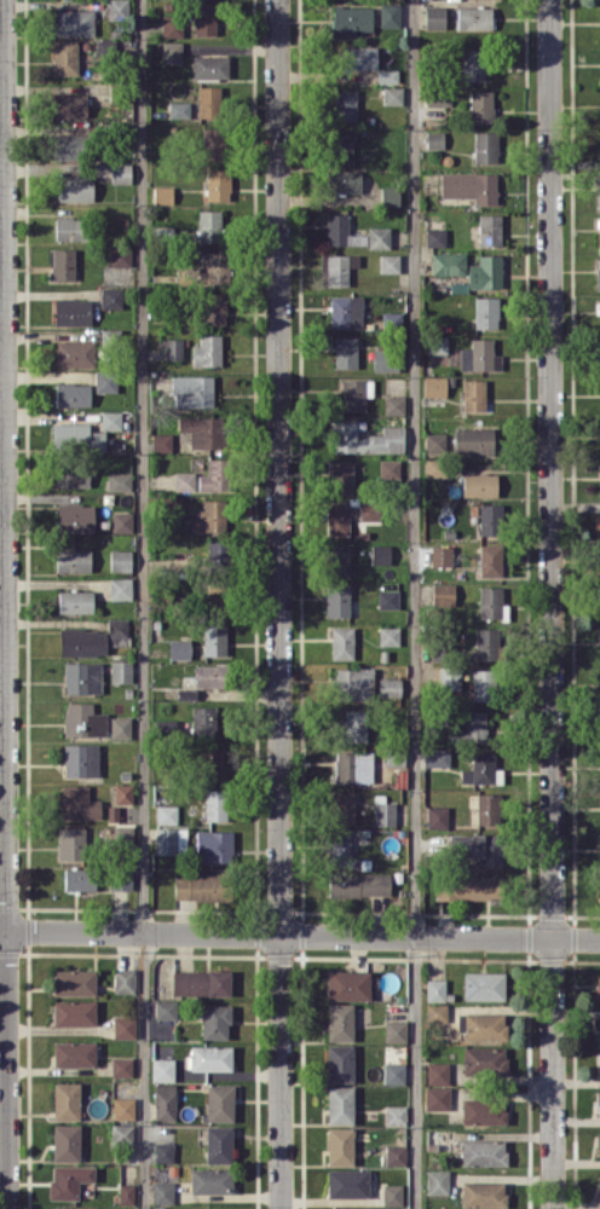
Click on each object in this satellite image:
building: (117, 10)
building: (388, 16)
building: (434, 16)
building: (473, 17)
building: (204, 18)
building: (352, 21)
building: (74, 22)
building: (172, 24)
building: (171, 51)
building: (65, 57)
building: (359, 57)
building: (472, 64)
building: (209, 66)
building: (386, 75)
building: (392, 94)
building: (437, 97)
building: (208, 102)
building: (68, 104)
building: (344, 104)
building: (480, 105)
building: (178, 109)
road: (1, 120)
building: (434, 139)
building: (213, 141)
building: (67, 146)
building: (339, 146)
building: (485, 146)
building: (120, 173)
building: (344, 180)
building: (217, 184)
building: (469, 185)
building: (74, 187)
building: (598, 191)
building: (162, 193)
building: (390, 196)
building: (208, 225)
building: (68, 229)
building: (489, 229)
building: (341, 231)
building: (599, 232)
building: (379, 237)
building: (435, 237)
building: (120, 255)
building: (388, 262)
building: (448, 262)
building: (63, 264)
building: (336, 268)
building: (208, 270)
building: (485, 272)
building: (598, 273)
building: (110, 297)
building: (598, 306)
building: (214, 308)
building: (71, 311)
building: (346, 311)
building: (486, 312)
building: (437, 343)
building: (173, 348)
building: (206, 351)
building: (345, 352)
building: (74, 353)
building: (479, 355)
building: (383, 359)
road: (1, 361)
building: (105, 380)
building: (434, 386)
building: (191, 391)
building: (354, 393)
building: (71, 394)
building: (473, 394)
building: (393, 404)
building: (110, 420)
building: (202, 430)
building: (76, 436)
building: (367, 439)
building: (473, 440)
building: (161, 441)
building: (434, 441)
building: (434, 467)
building: (390, 468)
building: (70, 474)
building: (214, 475)
building: (342, 476)
building: (183, 480)
building: (119, 481)
building: (479, 484)
building: (368, 510)
building: (210, 516)
building: (75, 517)
building: (339, 517)
building: (490, 519)
building: (122, 521)
building: (380, 554)
building: (440, 555)
building: (73, 560)
building: (120, 560)
building: (337, 560)
building: (490, 560)
building: (599, 565)
building: (120, 588)
building: (443, 594)
building: (214, 595)
building: (387, 598)
building: (75, 601)
building: (336, 601)
building: (490, 602)
road: (279, 603)
road: (4, 604)
road: (143, 604)
road: (416, 604)
road: (552, 604)
building: (117, 627)
building: (388, 635)
building: (214, 638)
building: (82, 641)
building: (341, 642)
building: (486, 642)
building: (179, 648)
building: (120, 670)
building: (208, 676)
building: (81, 677)
building: (449, 677)
building: (353, 683)
building: (481, 684)
building: (390, 687)
building: (179, 693)
building: (83, 719)
building: (203, 721)
building: (354, 725)
building: (120, 727)
building: (471, 727)
building: (394, 756)
building: (435, 757)
building: (80, 759)
building: (212, 762)
building: (352, 767)
building: (479, 767)
building: (122, 793)
building: (76, 803)
building: (215, 804)
building: (342, 808)
building: (487, 808)
building: (383, 812)
building: (166, 814)
building: (435, 816)
building: (122, 834)
building: (171, 839)
building: (71, 843)
building: (213, 846)
building: (339, 848)
building: (477, 848)
building: (599, 856)
building: (120, 878)
building: (79, 879)
building: (358, 884)
building: (466, 887)
road: (299, 936)
building: (123, 979)
building: (73, 982)
building: (201, 982)
building: (347, 984)
building: (483, 985)
building: (599, 987)
building: (434, 989)
building: (165, 1008)
building: (73, 1012)
building: (435, 1012)
building: (215, 1020)
building: (339, 1022)
building: (481, 1025)
building: (123, 1026)
building: (599, 1029)
building: (394, 1030)
building: (74, 1053)
building: (210, 1058)
building: (484, 1060)
building: (340, 1063)
building: (599, 1065)
building: (121, 1066)
building: (162, 1069)
building: (393, 1072)
building: (437, 1072)
building: (435, 1098)
building: (65, 1100)
building: (165, 1101)
building: (219, 1101)
building: (599, 1103)
building: (340, 1104)
building: (122, 1107)
building: (483, 1111)
building: (394, 1115)
building: (122, 1134)
building: (65, 1141)
building: (218, 1144)
building: (598, 1145)
building: (340, 1146)
building: (163, 1151)
building: (483, 1152)
building: (394, 1155)
building: (68, 1180)
building: (210, 1180)
building: (435, 1181)
building: (347, 1182)
building: (599, 1186)
building: (162, 1191)
building: (125, 1193)
building: (392, 1193)
building: (483, 1193)
building: (75, 1208)

